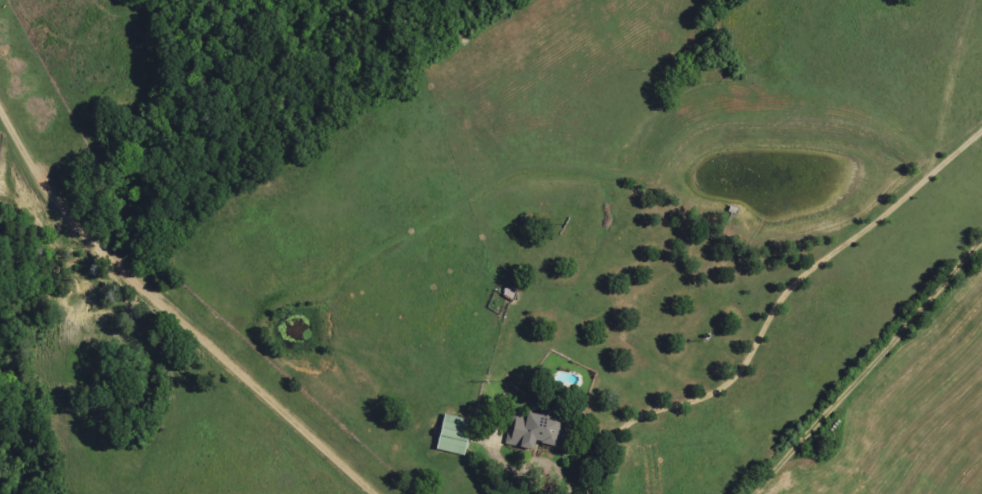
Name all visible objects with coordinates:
road: (772, 307)
road: (148, 310)
road: (866, 368)
building: (534, 430)

